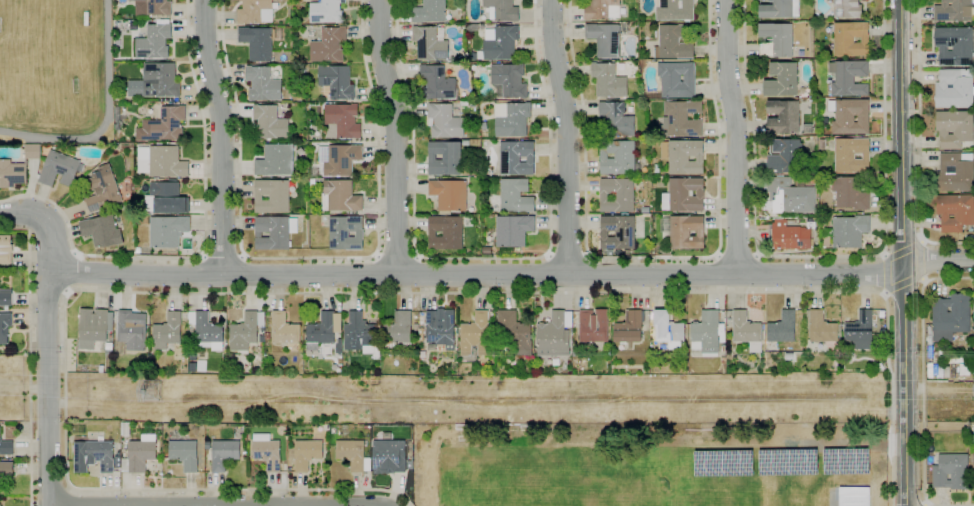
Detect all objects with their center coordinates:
building: (153, 7)
building: (848, 8)
building: (503, 9)
building: (602, 9)
building: (780, 9)
building: (675, 10)
building: (955, 10)
building: (256, 11)
building: (326, 11)
building: (429, 11)
building: (440, 32)
building: (606, 38)
building: (779, 38)
building: (851, 38)
building: (154, 42)
building: (259, 42)
building: (500, 42)
building: (673, 43)
building: (429, 44)
building: (329, 45)
building: (955, 46)
building: (622, 58)
building: (453, 59)
building: (848, 78)
building: (677, 79)
building: (160, 80)
building: (608, 80)
building: (782, 80)
building: (509, 81)
building: (336, 82)
building: (263, 83)
building: (438, 83)
building: (956, 89)
building: (654, 95)
building: (182, 103)
building: (851, 116)
building: (784, 117)
road: (107, 118)
building: (512, 119)
building: (617, 119)
building: (681, 119)
building: (343, 120)
building: (446, 120)
building: (270, 122)
building: (163, 125)
building: (956, 129)
road: (222, 136)
road: (395, 136)
road: (567, 136)
road: (736, 136)
building: (465, 142)
building: (823, 144)
road: (920, 145)
building: (32, 151)
building: (853, 155)
building: (684, 156)
building: (787, 157)
building: (445, 158)
building: (517, 158)
building: (618, 158)
building: (339, 159)
building: (276, 160)
building: (167, 162)
building: (656, 168)
building: (59, 169)
building: (956, 172)
building: (12, 173)
building: (319, 179)
building: (312, 182)
building: (102, 189)
building: (853, 192)
building: (449, 194)
building: (617, 195)
building: (684, 195)
building: (271, 196)
building: (340, 196)
building: (515, 196)
building: (790, 196)
building: (168, 197)
building: (645, 210)
building: (841, 211)
building: (956, 212)
building: (513, 230)
building: (101, 231)
building: (167, 231)
building: (684, 231)
building: (851, 231)
building: (274, 232)
building: (446, 232)
building: (617, 232)
building: (346, 233)
building: (791, 236)
road: (922, 241)
road: (202, 245)
building: (5, 249)
building: (138, 250)
building: (486, 250)
road: (903, 251)
road: (904, 253)
road: (587, 254)
road: (737, 254)
road: (549, 255)
road: (885, 255)
road: (377, 256)
road: (568, 256)
road: (203, 257)
road: (242, 257)
road: (417, 257)
road: (482, 257)
road: (820, 257)
road: (309, 258)
road: (396, 258)
road: (652, 258)
road: (222, 259)
road: (888, 259)
road: (920, 260)
road: (938, 260)
road: (77, 272)
road: (720, 272)
road: (756, 273)
road: (428, 274)
road: (887, 274)
road: (919, 275)
road: (923, 280)
road: (904, 283)
road: (47, 290)
road: (355, 292)
road: (586, 292)
road: (201, 293)
road: (251, 293)
road: (310, 293)
road: (405, 293)
road: (886, 293)
building: (6, 297)
road: (541, 298)
building: (881, 314)
building: (973, 316)
building: (950, 317)
building: (593, 325)
building: (5, 326)
building: (440, 326)
building: (93, 327)
building: (629, 327)
building: (262, 328)
building: (667, 328)
building: (745, 328)
building: (782, 328)
building: (822, 328)
building: (132, 329)
building: (284, 329)
building: (324, 329)
building: (415, 329)
building: (206, 330)
building: (167, 331)
building: (398, 331)
building: (420, 331)
building: (243, 332)
building: (359, 332)
building: (859, 332)
building: (514, 333)
building: (706, 334)
building: (475, 335)
building: (267, 336)
building: (553, 336)
building: (262, 339)
building: (420, 339)
building: (415, 340)
building: (792, 345)
building: (108, 346)
building: (935, 355)
building: (192, 356)
building: (789, 356)
building: (940, 358)
road: (29, 359)
building: (723, 360)
building: (959, 360)
building: (555, 362)
building: (192, 366)
building: (100, 369)
building: (935, 369)
building: (183, 370)
building: (940, 371)
building: (946, 374)
road: (49, 388)
road: (922, 390)
power tower: (156, 394)
building: (366, 427)
building: (125, 428)
building: (207, 445)
building: (6, 447)
building: (266, 451)
building: (139, 454)
building: (184, 454)
building: (223, 454)
building: (306, 454)
building: (351, 454)
building: (93, 456)
building: (389, 456)
building: (117, 462)
building: (409, 465)
building: (6, 469)
building: (973, 471)
building: (951, 472)
road: (49, 488)
road: (69, 496)
building: (853, 496)
road: (925, 504)
road: (213, 505)
road: (911, 505)

